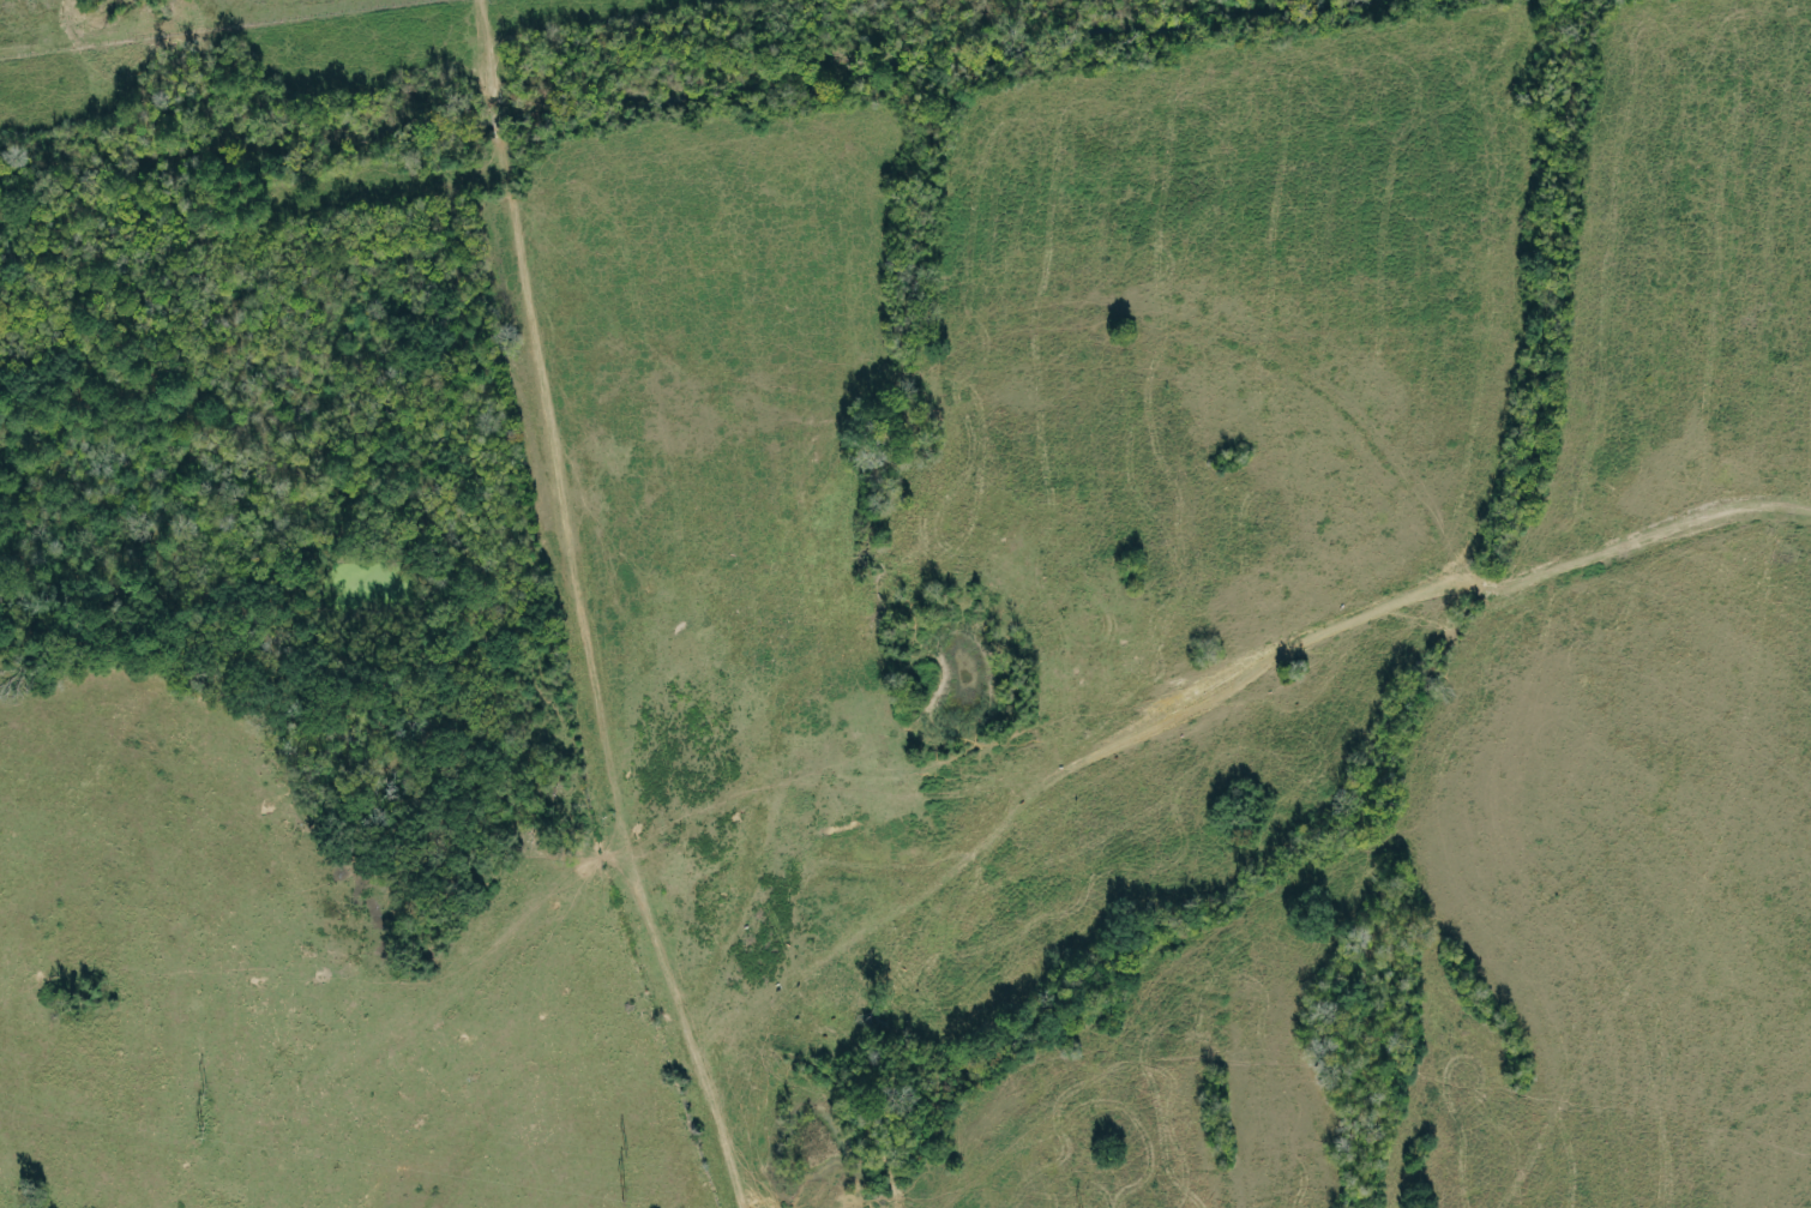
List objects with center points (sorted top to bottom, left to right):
road: (574, 611)
power tower: (199, 1130)
power tower: (621, 1194)

